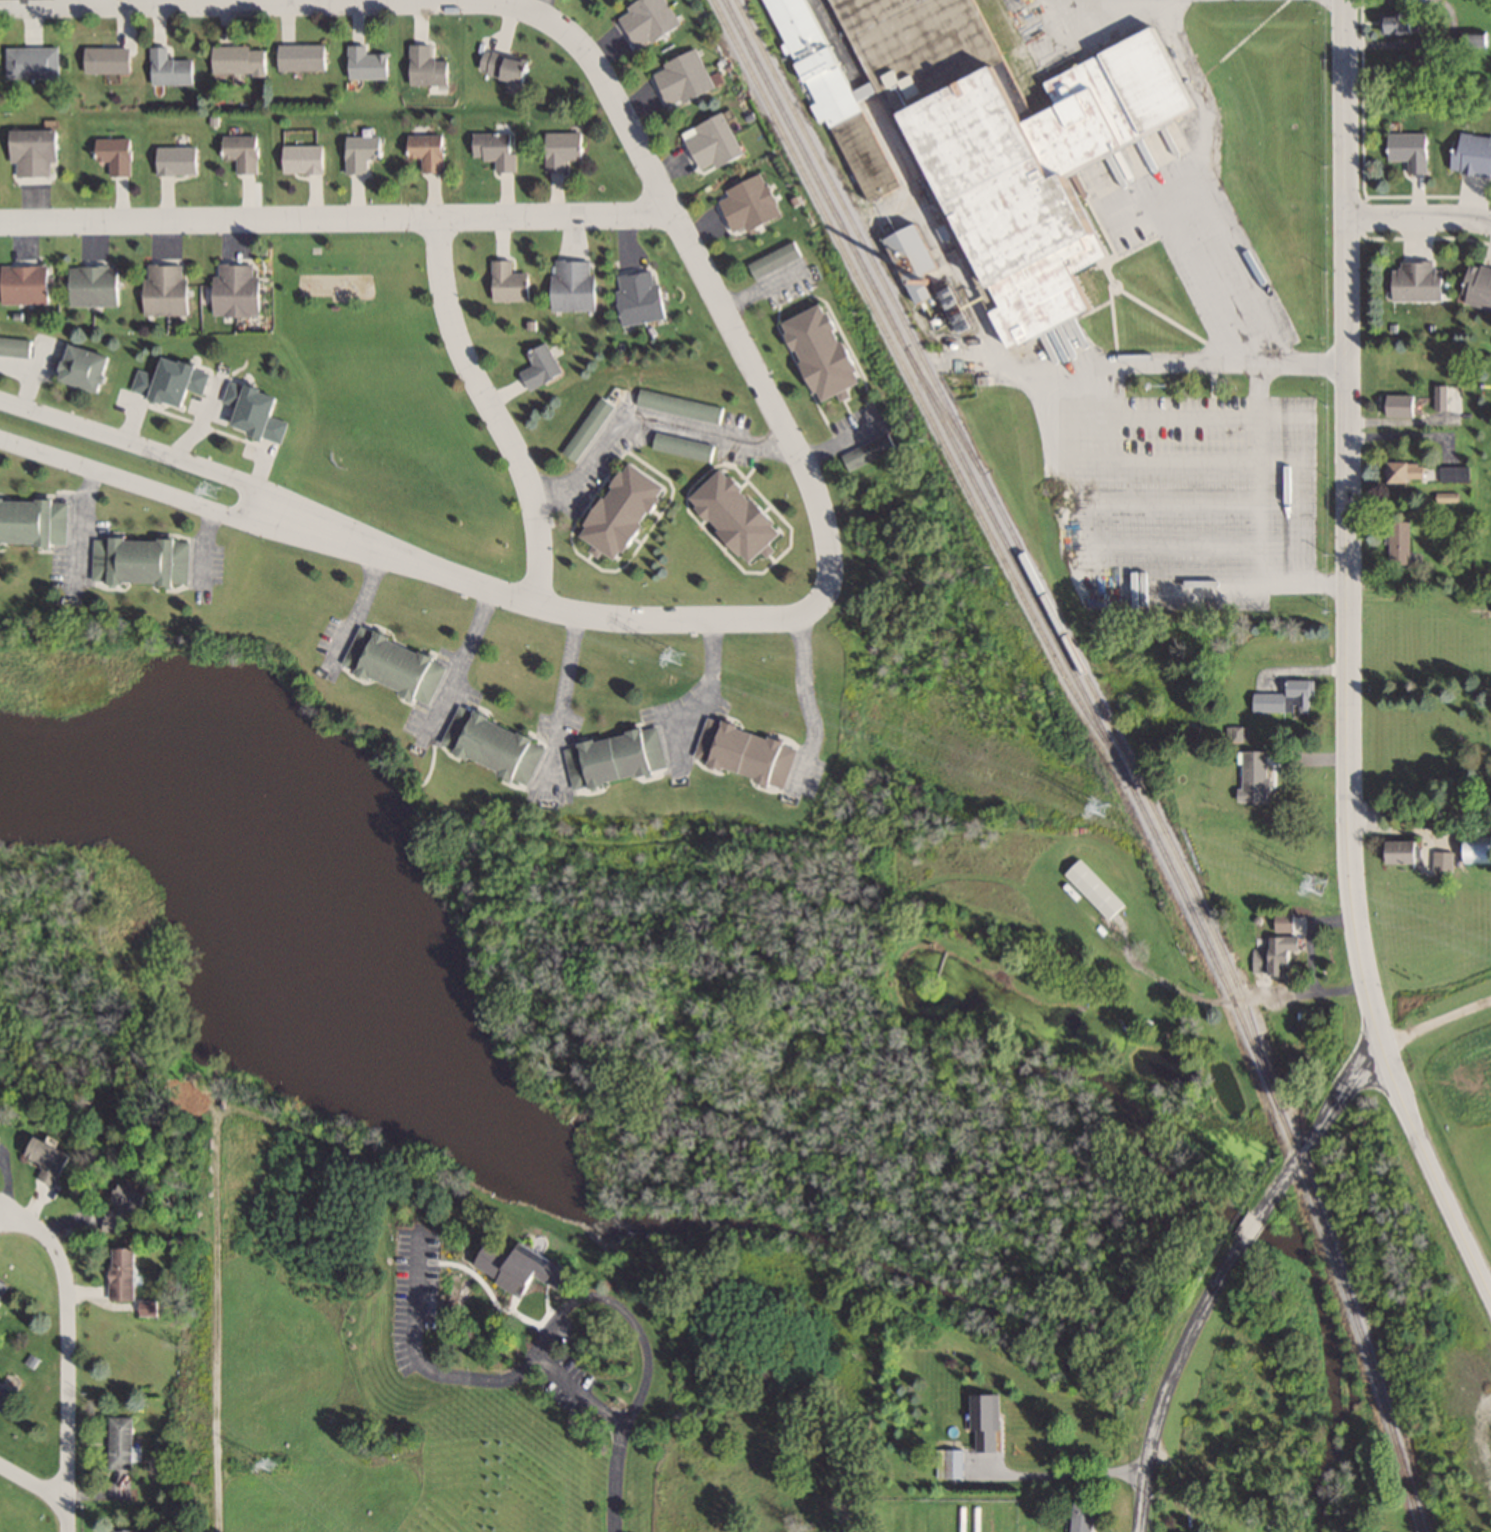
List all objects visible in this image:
road: (1113, 0)
road: (28, 3)
building: (647, 20)
building: (1400, 23)
building: (927, 37)
road: (587, 55)
building: (303, 56)
building: (108, 59)
building: (240, 59)
building: (32, 61)
building: (368, 63)
building: (428, 66)
building: (506, 67)
building: (171, 68)
building: (683, 78)
building: (840, 92)
building: (712, 143)
building: (496, 149)
building: (562, 149)
building: (1410, 150)
building: (428, 151)
building: (34, 152)
building: (362, 152)
building: (243, 153)
building: (1471, 154)
building: (115, 155)
building: (304, 158)
building: (178, 160)
building: (1052, 171)
building: (749, 203)
road: (1198, 219)
road: (1419, 219)
road: (337, 220)
building: (914, 253)
building: (774, 259)
building: (1417, 281)
building: (509, 282)
building: (24, 284)
building: (94, 286)
building: (574, 286)
building: (1478, 286)
building: (165, 289)
building: (236, 290)
building: (640, 297)
building: (15, 346)
building: (825, 352)
building: (541, 367)
building: (86, 368)
building: (171, 381)
railway: (913, 384)
building: (1441, 397)
park: (385, 398)
building: (678, 405)
building: (1402, 405)
building: (255, 410)
road: (490, 412)
road: (643, 420)
building: (588, 428)
building: (682, 446)
road: (153, 451)
building: (869, 452)
building: (1412, 471)
road: (146, 488)
power tower: (210, 489)
building: (626, 512)
road: (1061, 512)
building: (738, 515)
road: (1349, 521)
building: (33, 522)
building: (1398, 543)
railway: (1017, 544)
building: (141, 561)
road: (551, 610)
power tower: (679, 652)
building: (354, 660)
building: (404, 665)
building: (1287, 697)
road: (554, 703)
building: (503, 746)
railway: (1110, 748)
building: (745, 749)
building: (616, 756)
power tower: (1104, 803)
road: (1422, 812)
building: (1477, 847)
building: (1405, 849)
building: (1446, 859)
power tower: (1317, 884)
building: (1096, 888)
building: (1290, 920)
building: (1276, 954)
road: (1437, 1019)
road: (1317, 1125)
building: (52, 1158)
road: (1433, 1168)
building: (124, 1206)
road: (1251, 1225)
river: (746, 1241)
building: (522, 1267)
building: (124, 1273)
building: (3, 1287)
road: (576, 1299)
road: (68, 1342)
road: (419, 1363)
road: (1172, 1377)
building: (6, 1395)
building: (986, 1427)
building: (1032, 1441)
building: (122, 1442)
building: (952, 1463)
road: (1069, 1472)
road: (617, 1478)
road: (34, 1484)
road: (69, 1517)
building: (1085, 1517)
building: (944, 1519)
building: (959, 1519)
building: (974, 1519)
building: (990, 1519)
building: (1006, 1519)
building: (124, 1530)

